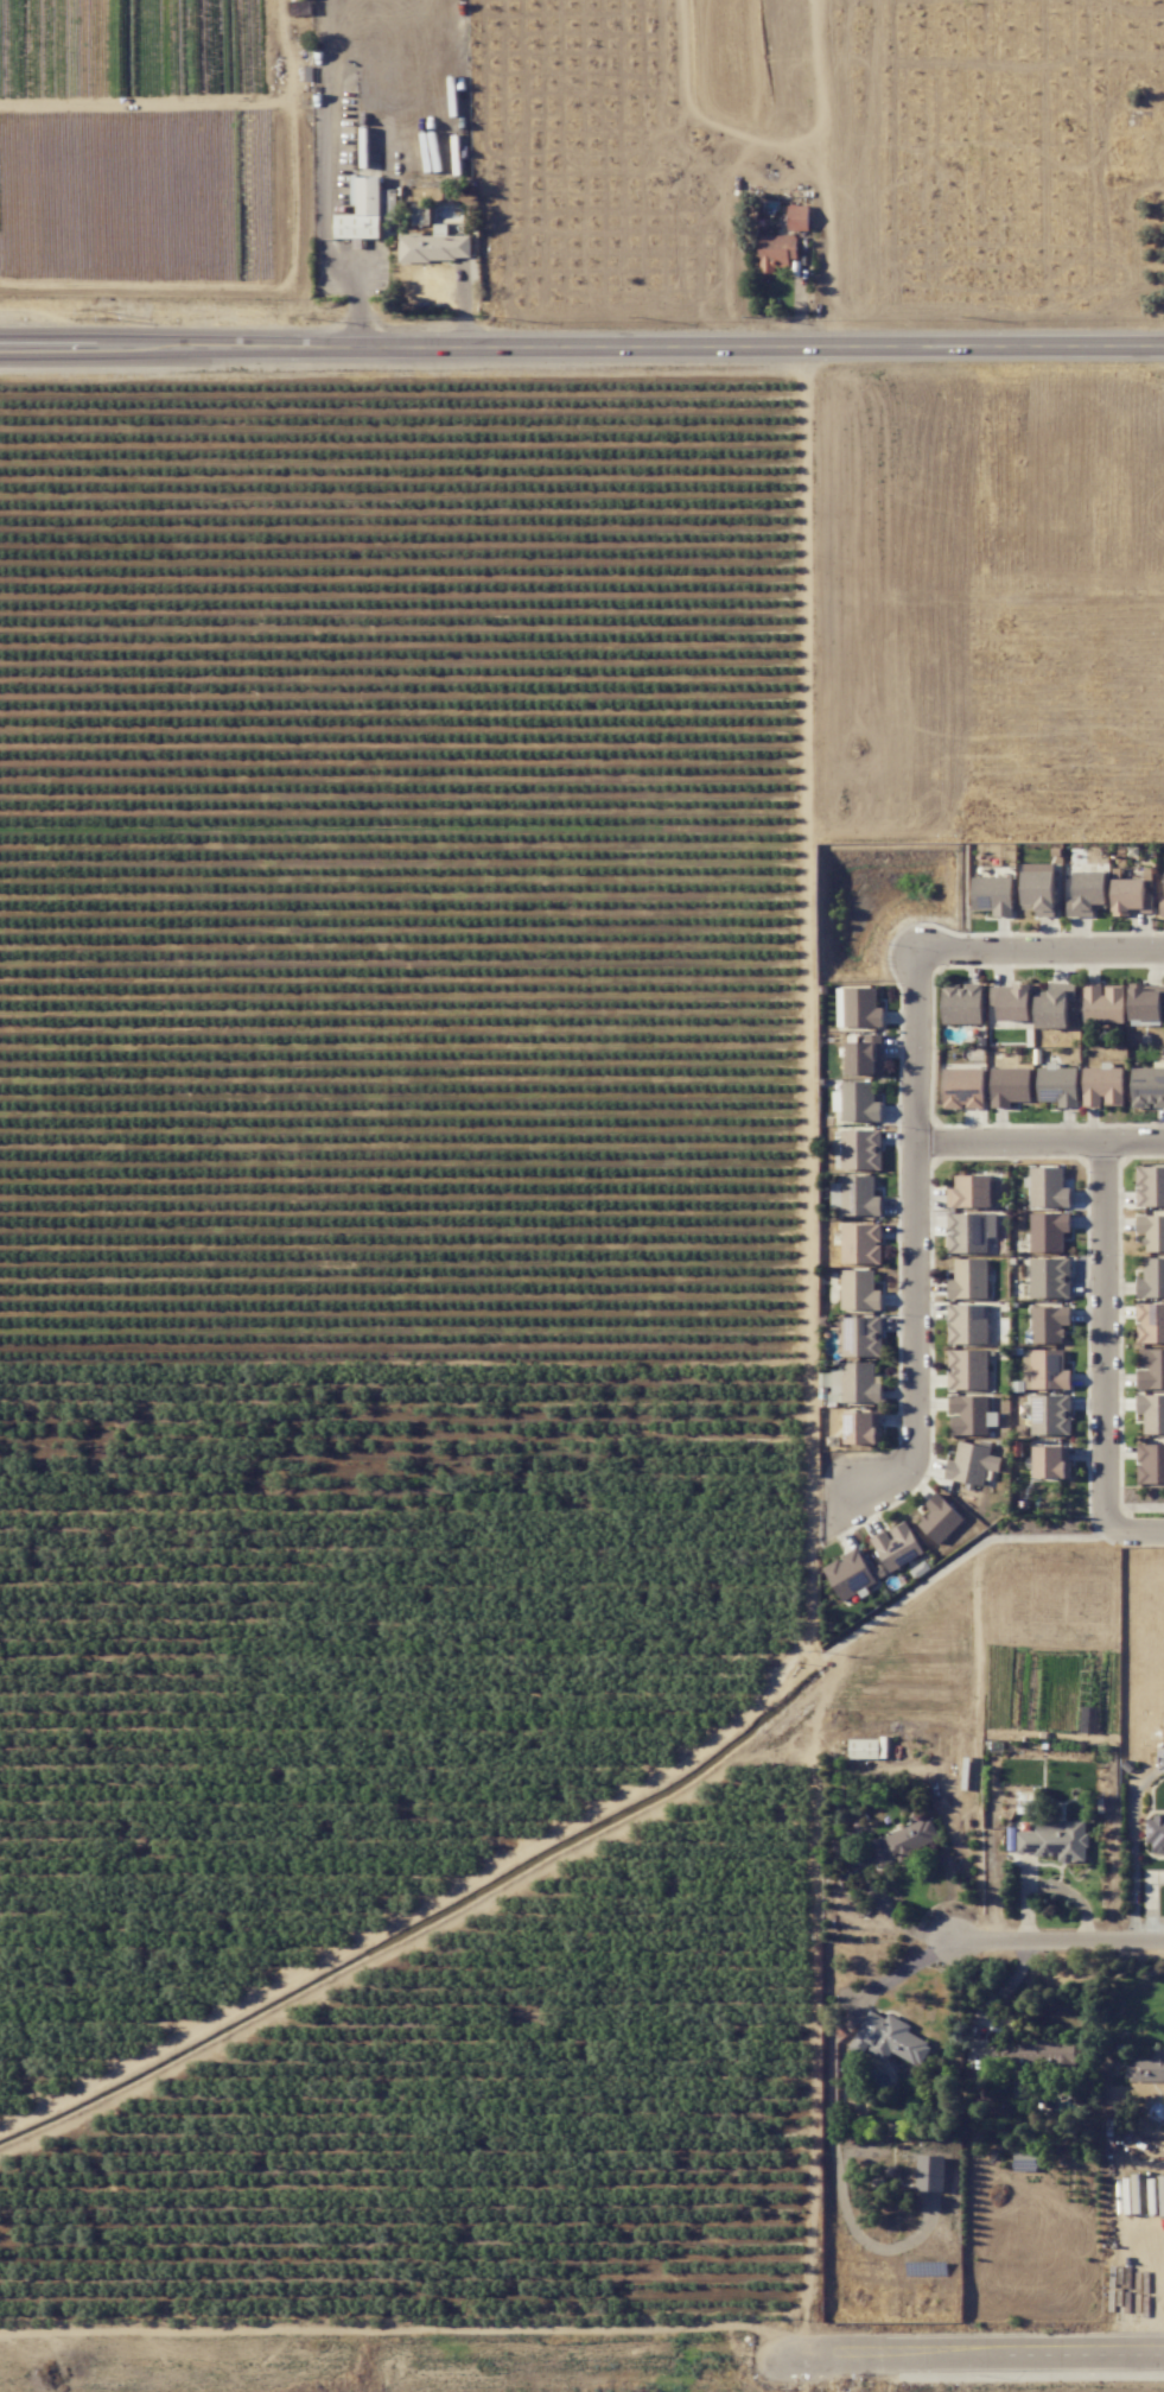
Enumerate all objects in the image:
road: (1033, 171)
road: (984, 172)
building: (367, 209)
building: (799, 217)
building: (434, 246)
building: (776, 252)
road: (581, 345)
building: (1038, 893)
building: (993, 894)
building: (1088, 894)
building: (1131, 897)
building: (1162, 907)
road: (1037, 952)
building: (1145, 1001)
building: (1011, 1002)
building: (961, 1003)
building: (1103, 1003)
building: (1052, 1007)
building: (861, 1008)
building: (864, 1055)
building: (1057, 1085)
building: (1009, 1086)
building: (1101, 1086)
building: (1147, 1086)
building: (963, 1089)
building: (858, 1103)
road: (1036, 1140)
building: (860, 1149)
building: (1150, 1186)
building: (1049, 1188)
building: (975, 1192)
building: (855, 1195)
road: (910, 1214)
building: (1048, 1231)
building: (971, 1232)
building: (1151, 1232)
building: (860, 1244)
building: (969, 1279)
building: (1050, 1279)
building: (1151, 1279)
building: (859, 1290)
building: (1150, 1322)
building: (967, 1324)
building: (1049, 1324)
building: (861, 1335)
road: (1107, 1335)
building: (968, 1369)
building: (1151, 1369)
building: (1045, 1370)
building: (858, 1382)
building: (1152, 1413)
building: (1051, 1414)
building: (971, 1415)
building: (863, 1428)
building: (1051, 1461)
building: (972, 1464)
building: (1150, 1464)
road: (872, 1497)
building: (939, 1518)
road: (1144, 1529)
building: (897, 1546)
building: (850, 1574)
road: (821, 1705)
building: (864, 1749)
building: (1156, 1835)
building: (1055, 1840)
building: (904, 1842)
road: (439, 1893)
road: (1057, 1947)
road: (896, 1975)
building: (889, 2039)
building: (1041, 2058)
building: (1146, 2068)
building: (1022, 2088)
building: (1024, 2161)
building: (930, 2172)
road: (713, 2327)
road: (974, 2352)

